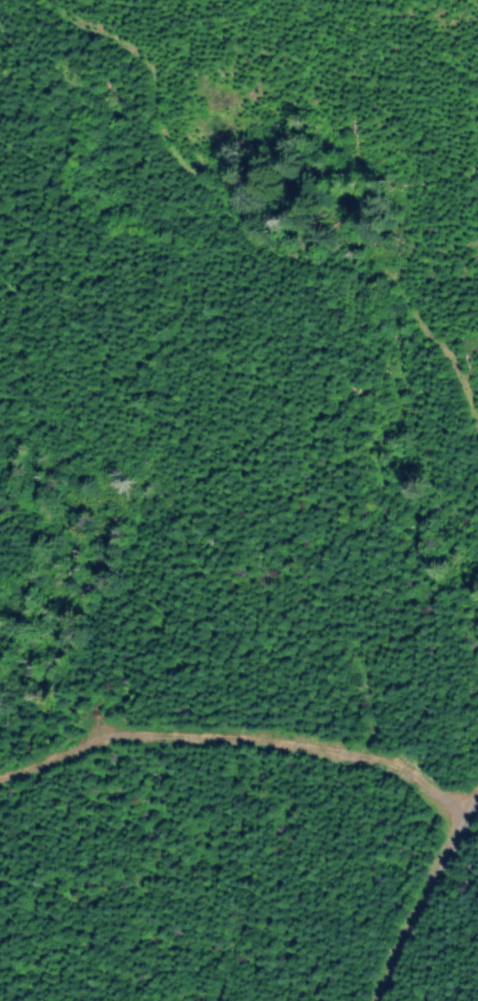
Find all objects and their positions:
road: (253, 207)
road: (446, 934)

